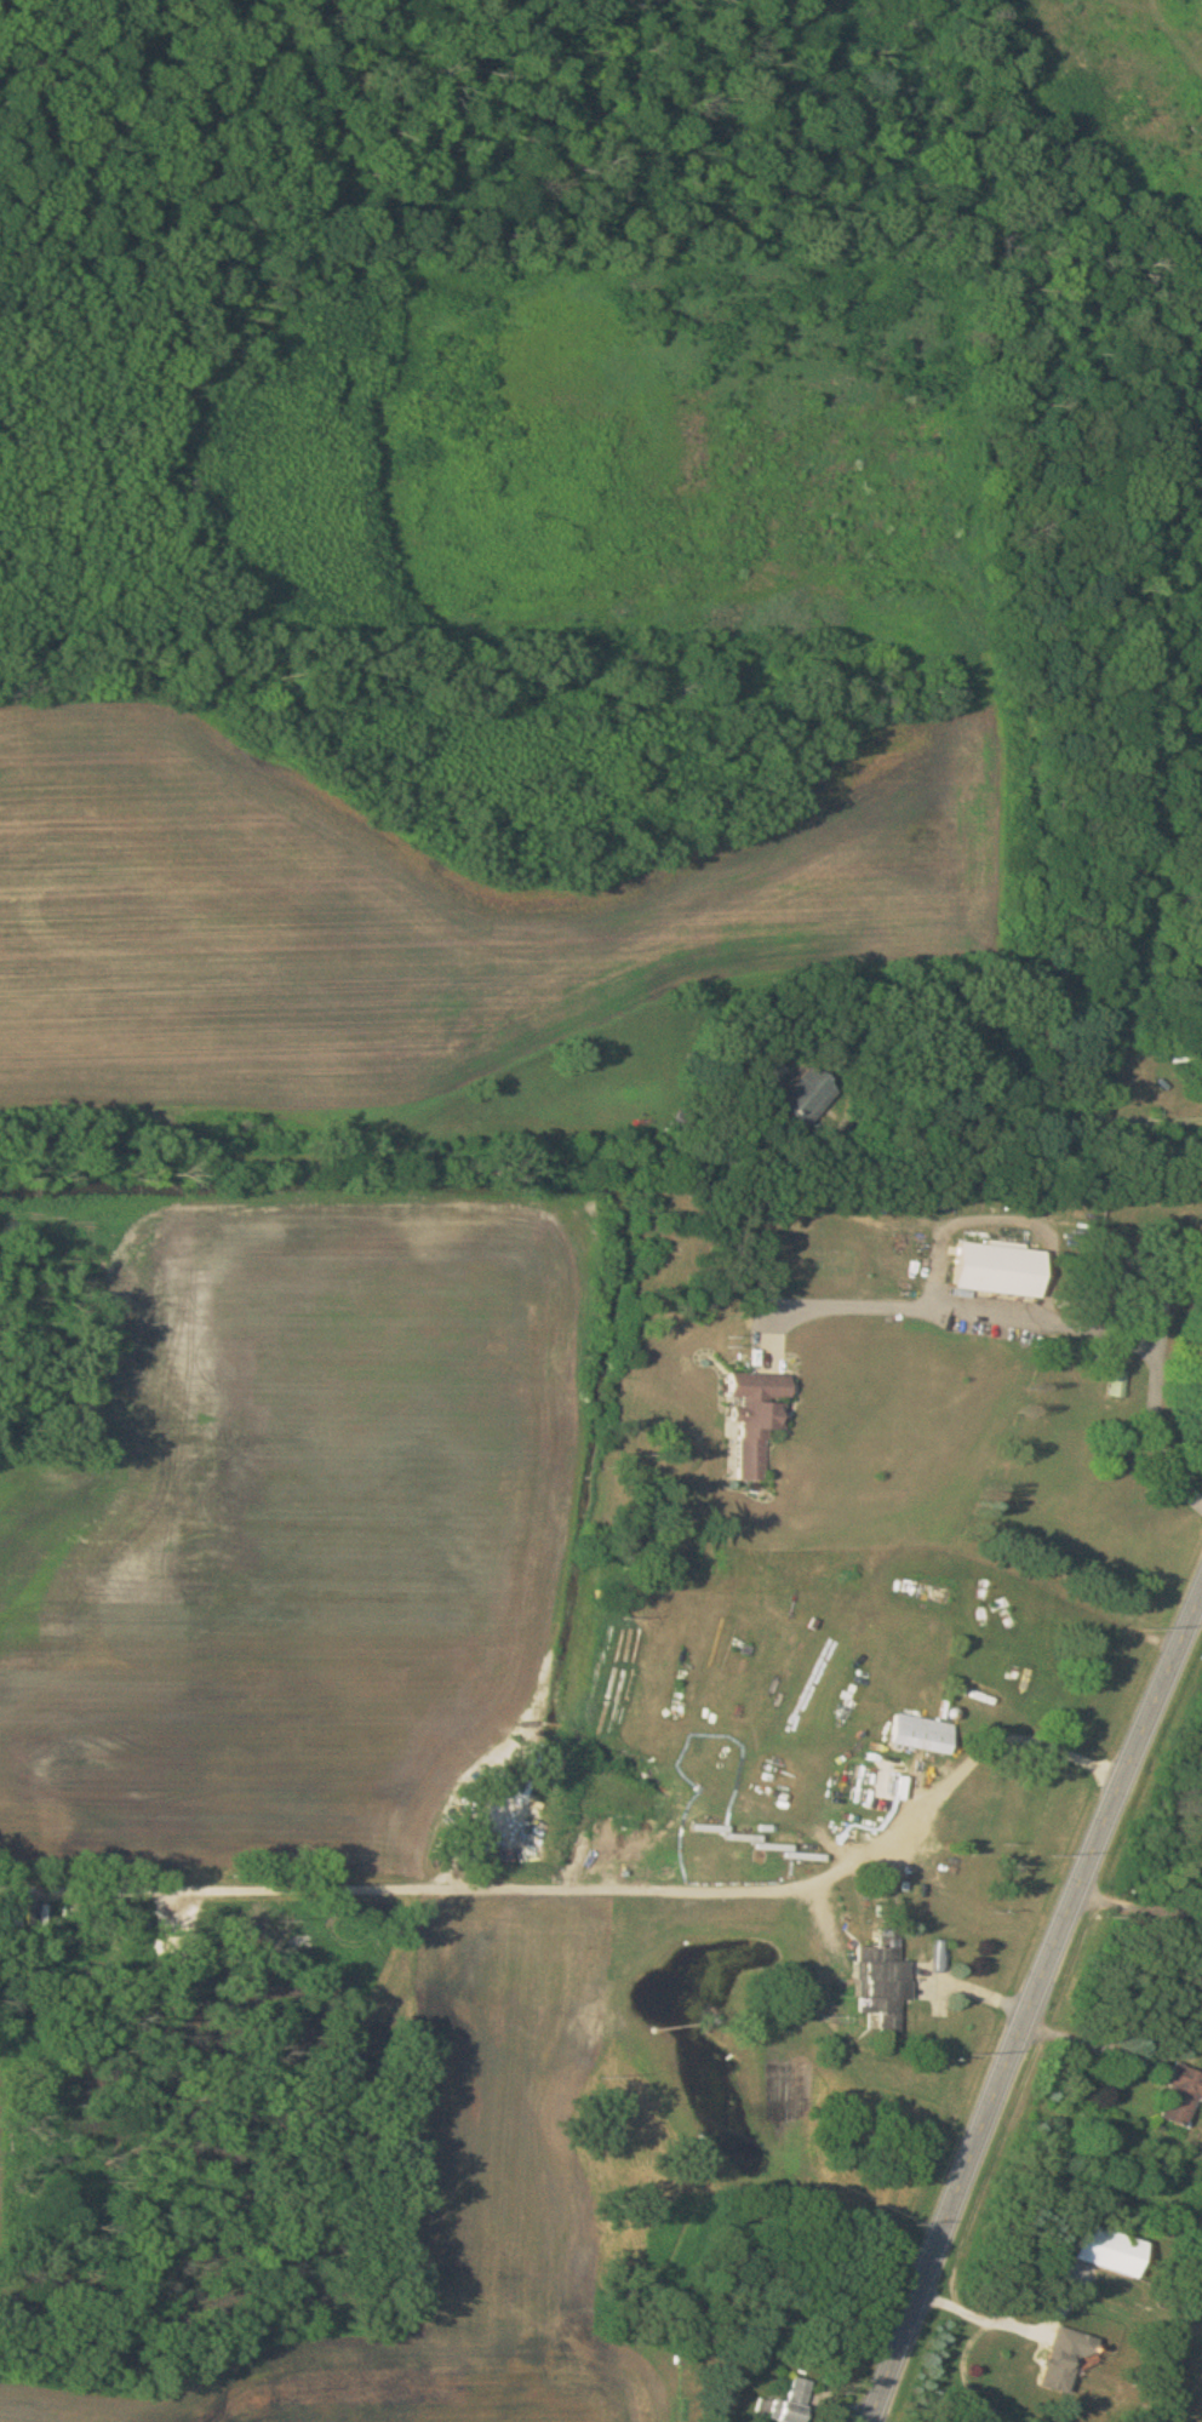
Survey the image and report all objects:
road: (1017, 1149)
building: (1004, 1270)
road: (967, 1312)
road: (1157, 1379)
building: (1120, 1382)
building: (763, 1403)
building: (922, 1733)
road: (633, 1884)
road: (1143, 1907)
building: (16, 1913)
building: (885, 1980)
road: (1036, 2010)
road: (1117, 2051)
building: (1181, 2095)
building: (1109, 2249)
road: (981, 2309)
building: (1063, 2359)
building: (795, 2403)

